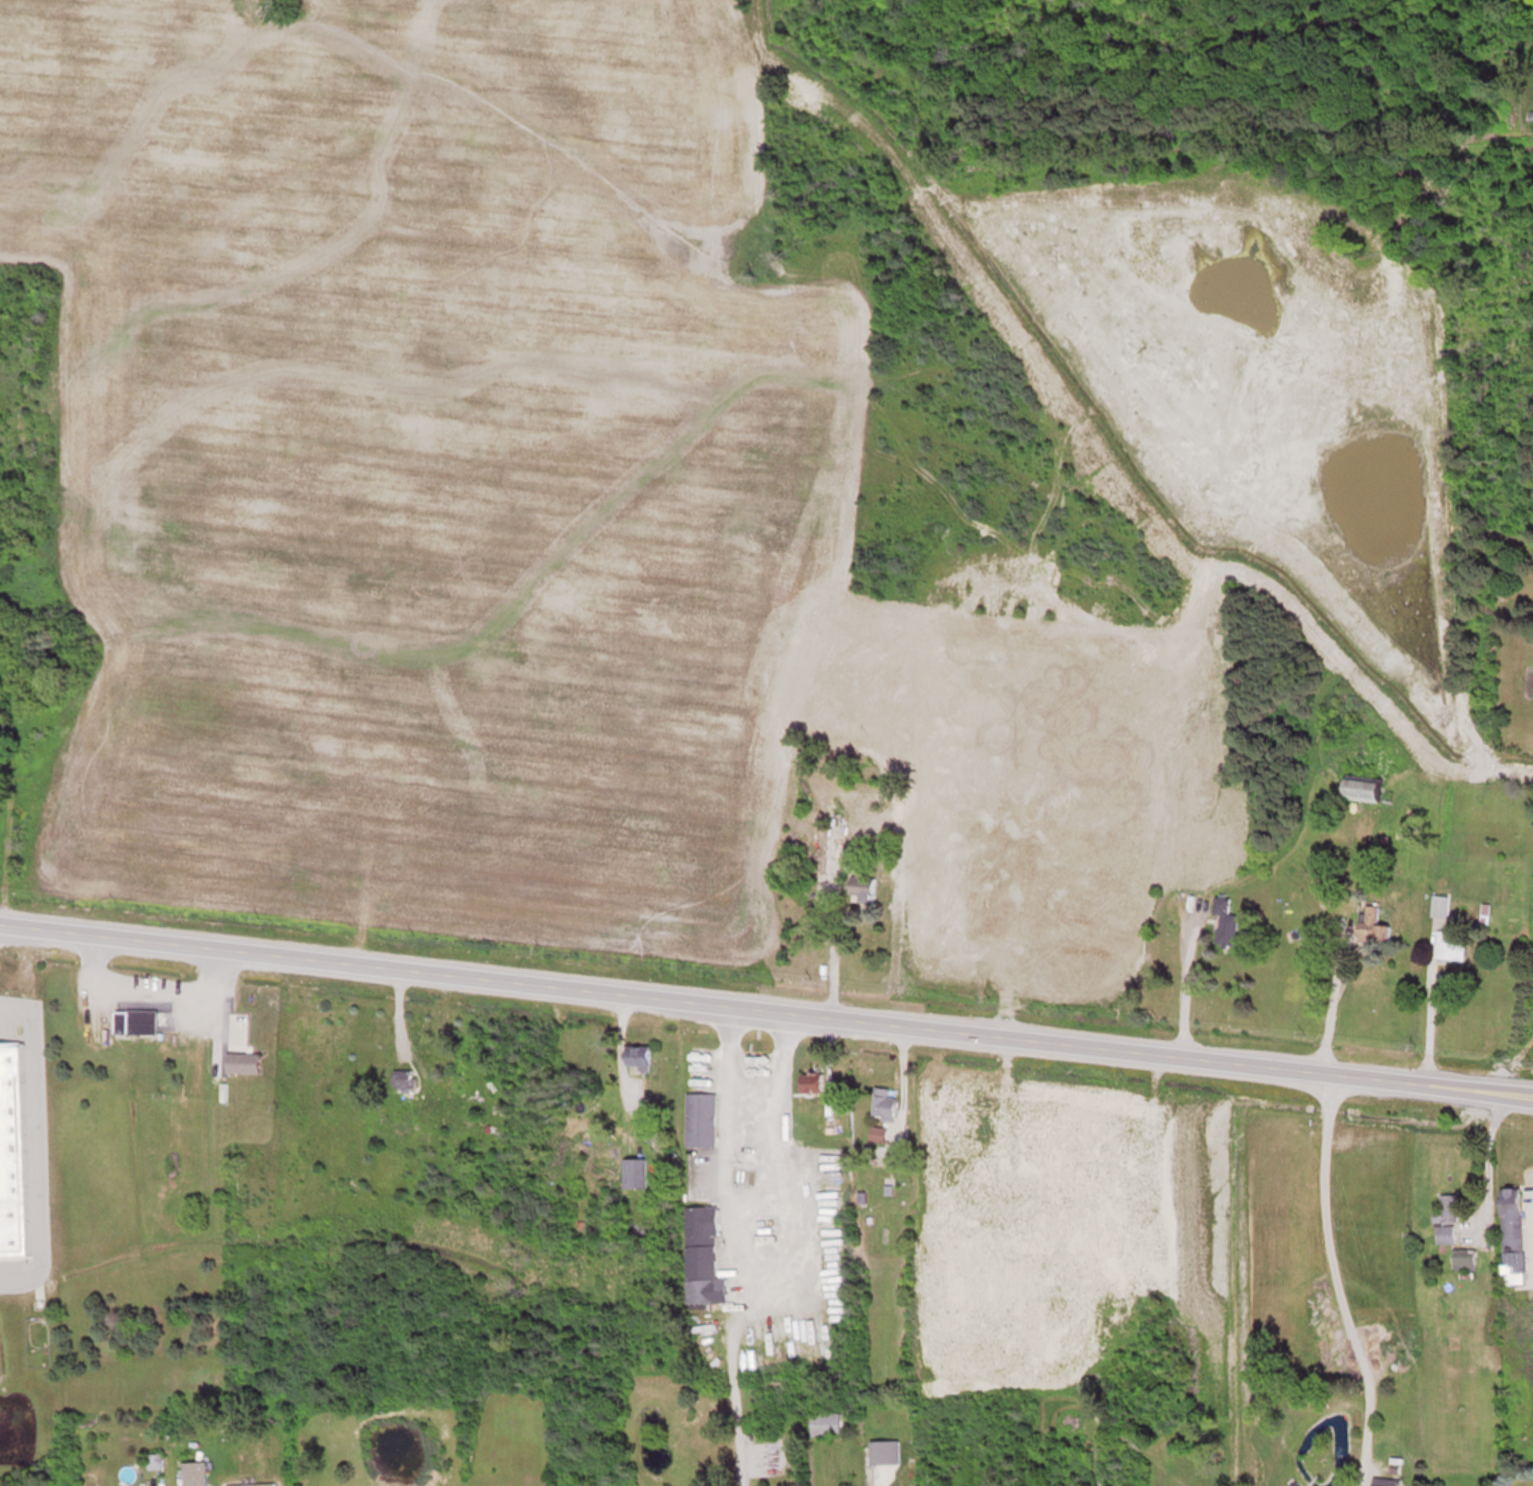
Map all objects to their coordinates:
building: (1362, 789)
building: (833, 845)
building: (861, 886)
building: (1439, 905)
building: (1225, 921)
building: (1371, 924)
building: (1450, 944)
road: (833, 950)
road: (146, 992)
road: (1330, 1005)
road: (766, 1009)
building: (135, 1021)
building: (237, 1030)
building: (637, 1057)
building: (241, 1062)
building: (401, 1080)
building: (810, 1081)
building: (883, 1104)
building: (700, 1118)
building: (876, 1134)
road: (36, 1143)
building: (11, 1153)
building: (633, 1173)
road: (745, 1198)
building: (1447, 1208)
building: (1445, 1233)
building: (1512, 1235)
building: (703, 1256)
building: (1464, 1258)
road: (1337, 1282)
building: (826, 1423)
building: (882, 1452)
building: (194, 1473)
building: (1385, 1481)
building: (251, 1484)

